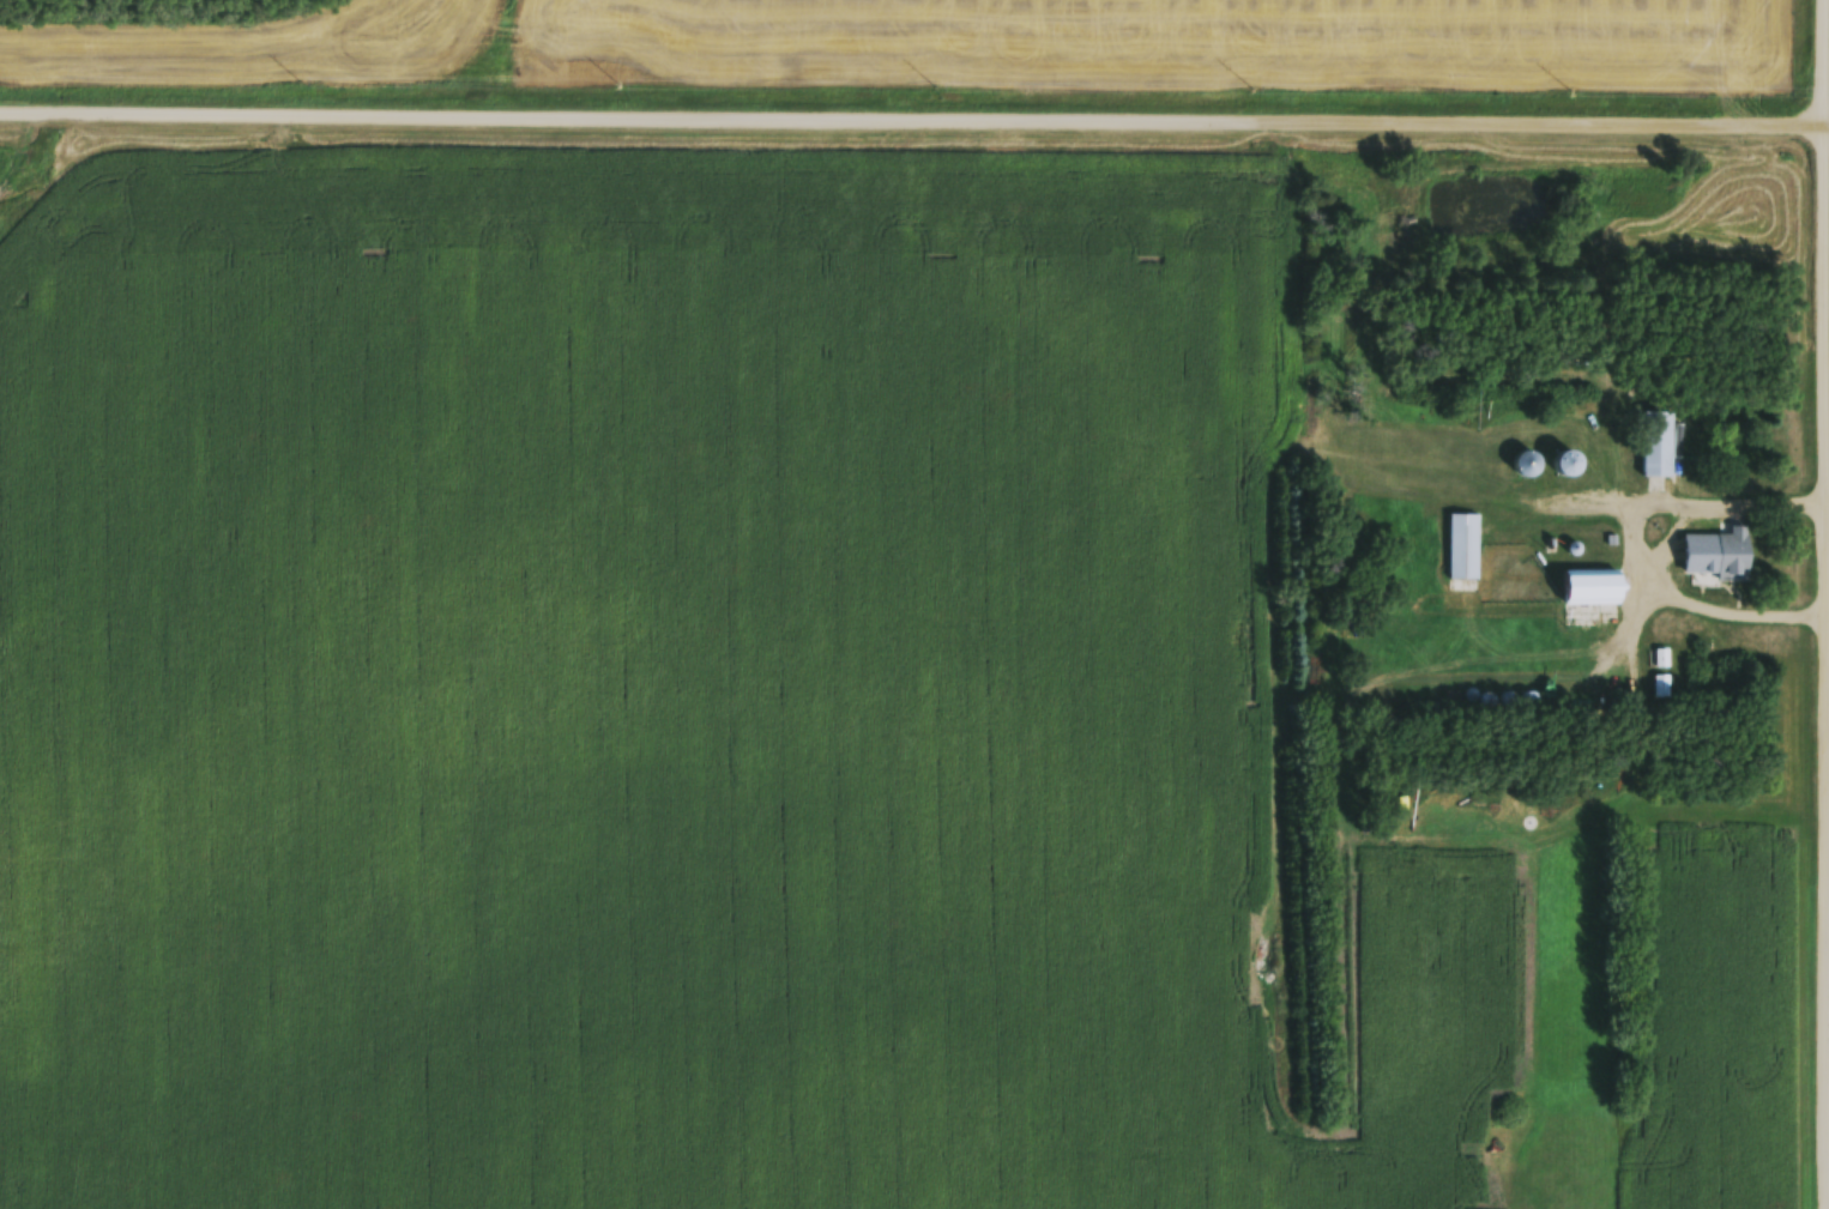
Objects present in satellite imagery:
road: (912, 116)
road: (1827, 123)
building: (1658, 447)
road: (1827, 461)
building: (1592, 464)
building: (1526, 469)
road: (1631, 537)
building: (1463, 550)
building: (1736, 560)
building: (1594, 591)

